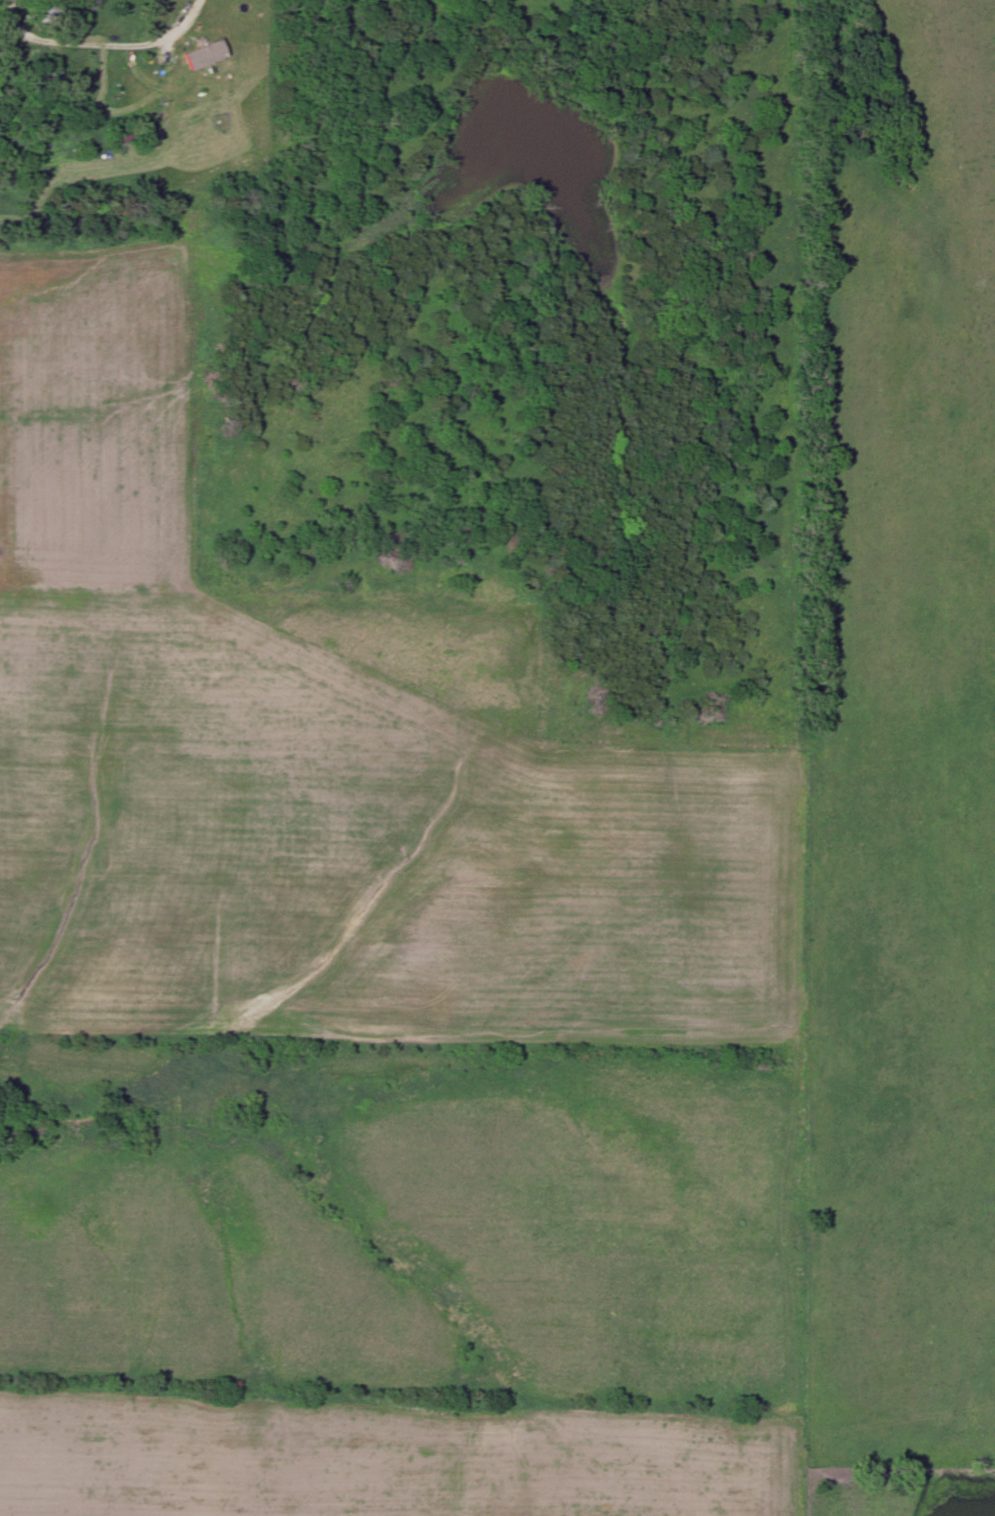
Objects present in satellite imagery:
building: (49, 14)
road: (97, 41)
building: (205, 55)

